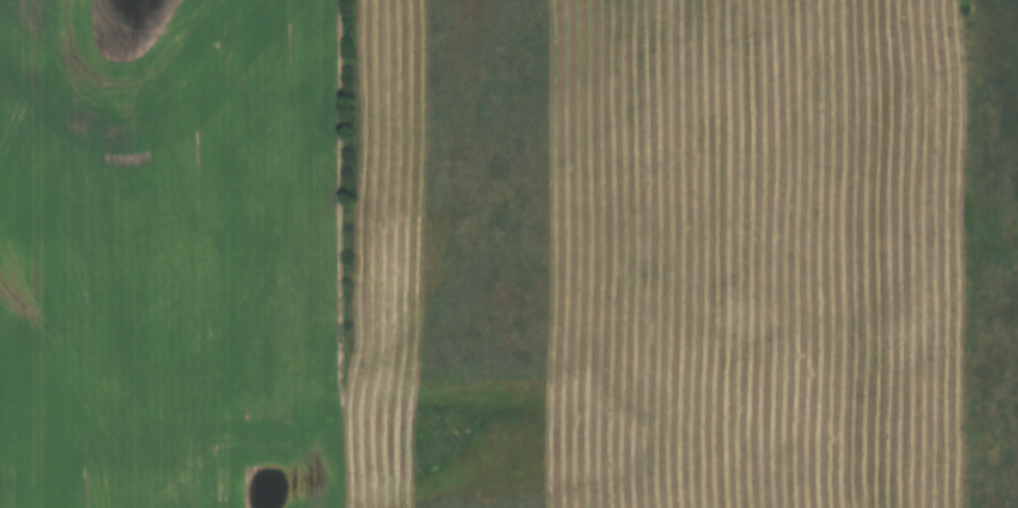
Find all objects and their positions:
road: (966, 253)

